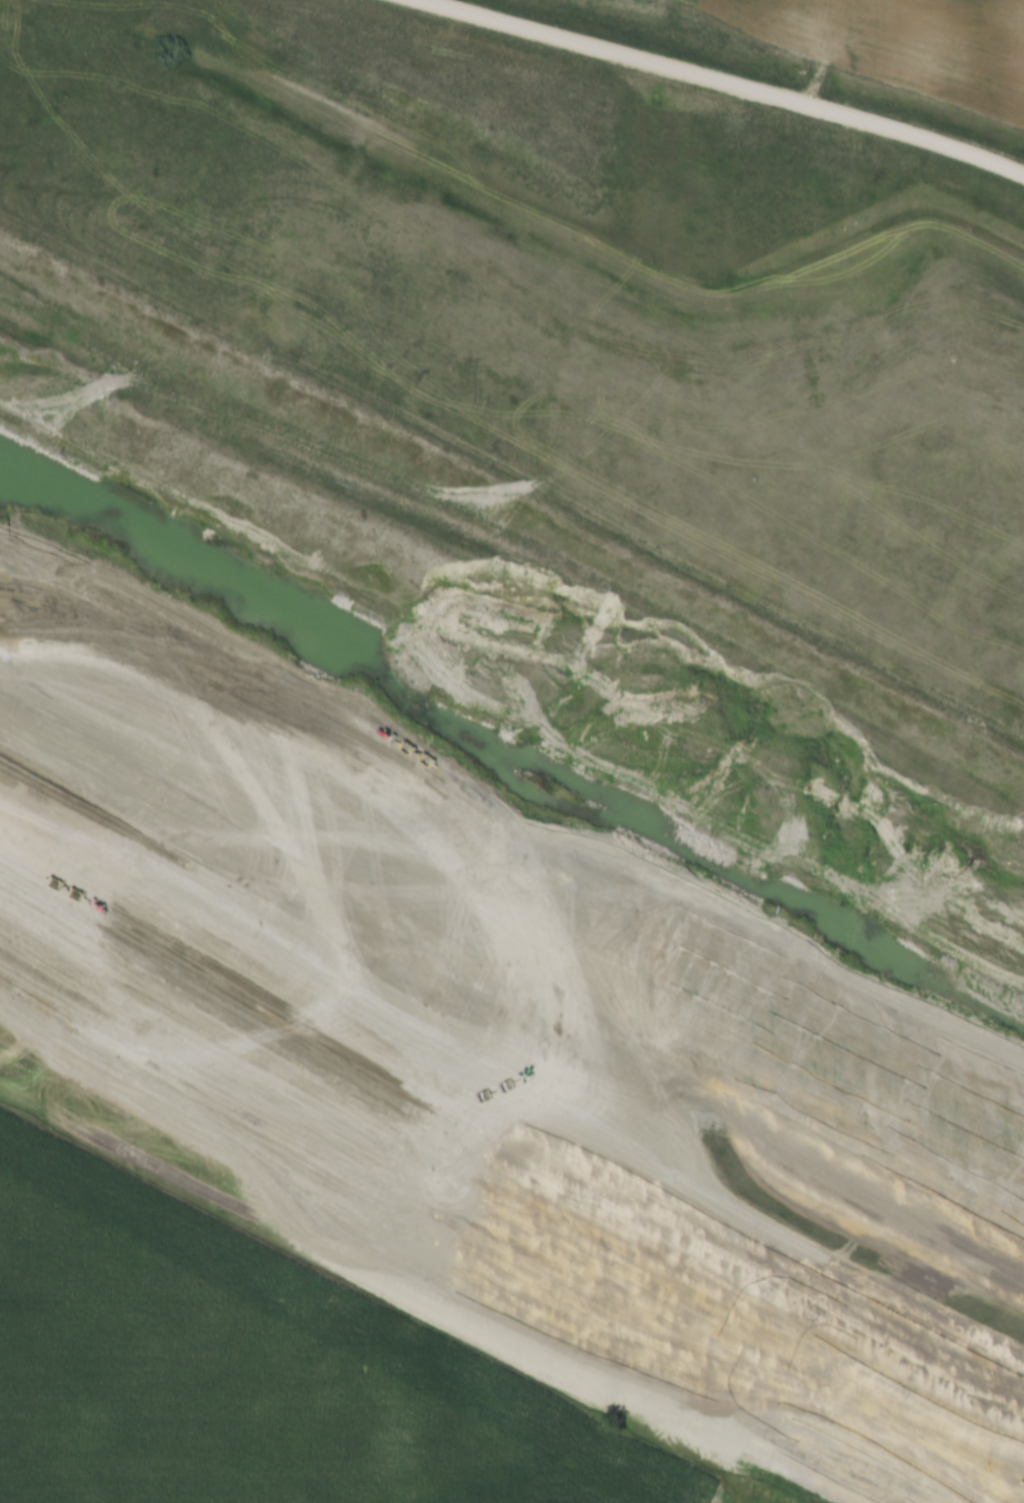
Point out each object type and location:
road: (728, 81)
road: (400, 940)

